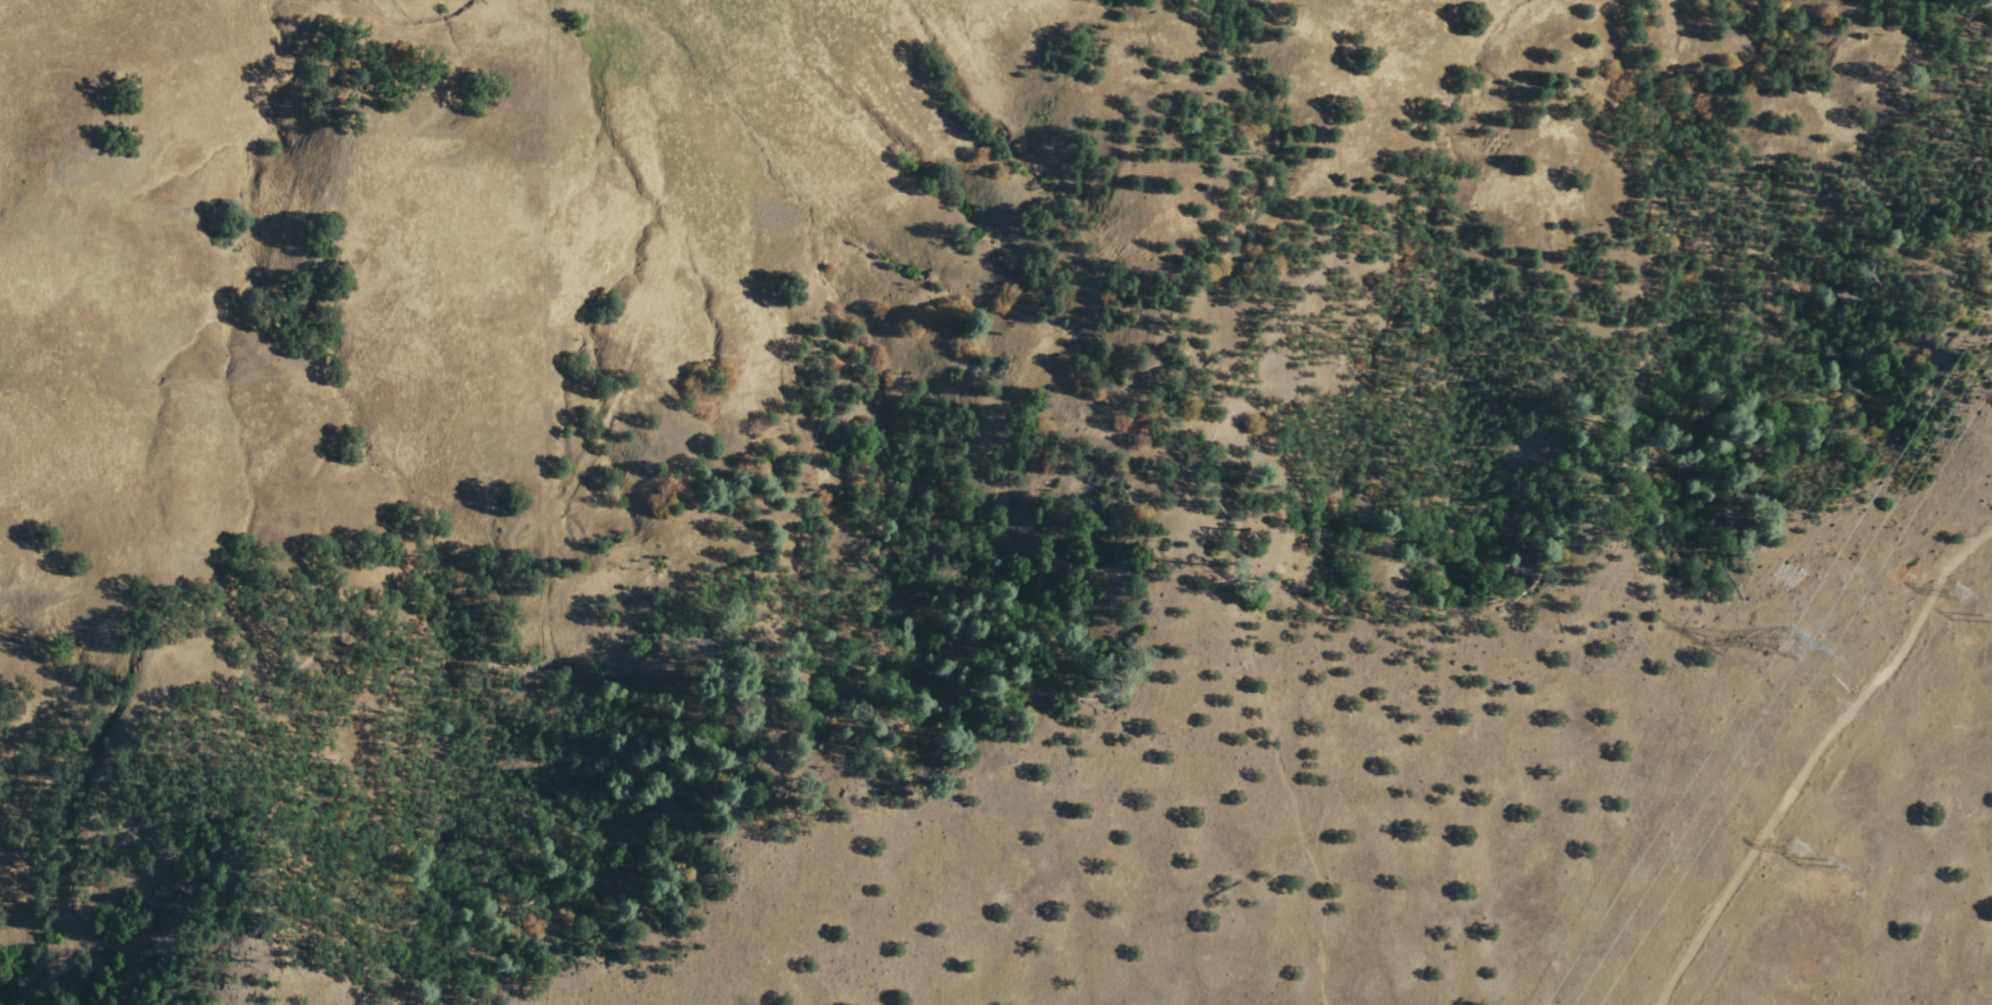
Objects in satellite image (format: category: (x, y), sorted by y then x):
power tower: (1964, 600)
power tower: (1801, 653)
road: (1812, 755)
power tower: (1788, 844)
power tower: (1831, 860)

